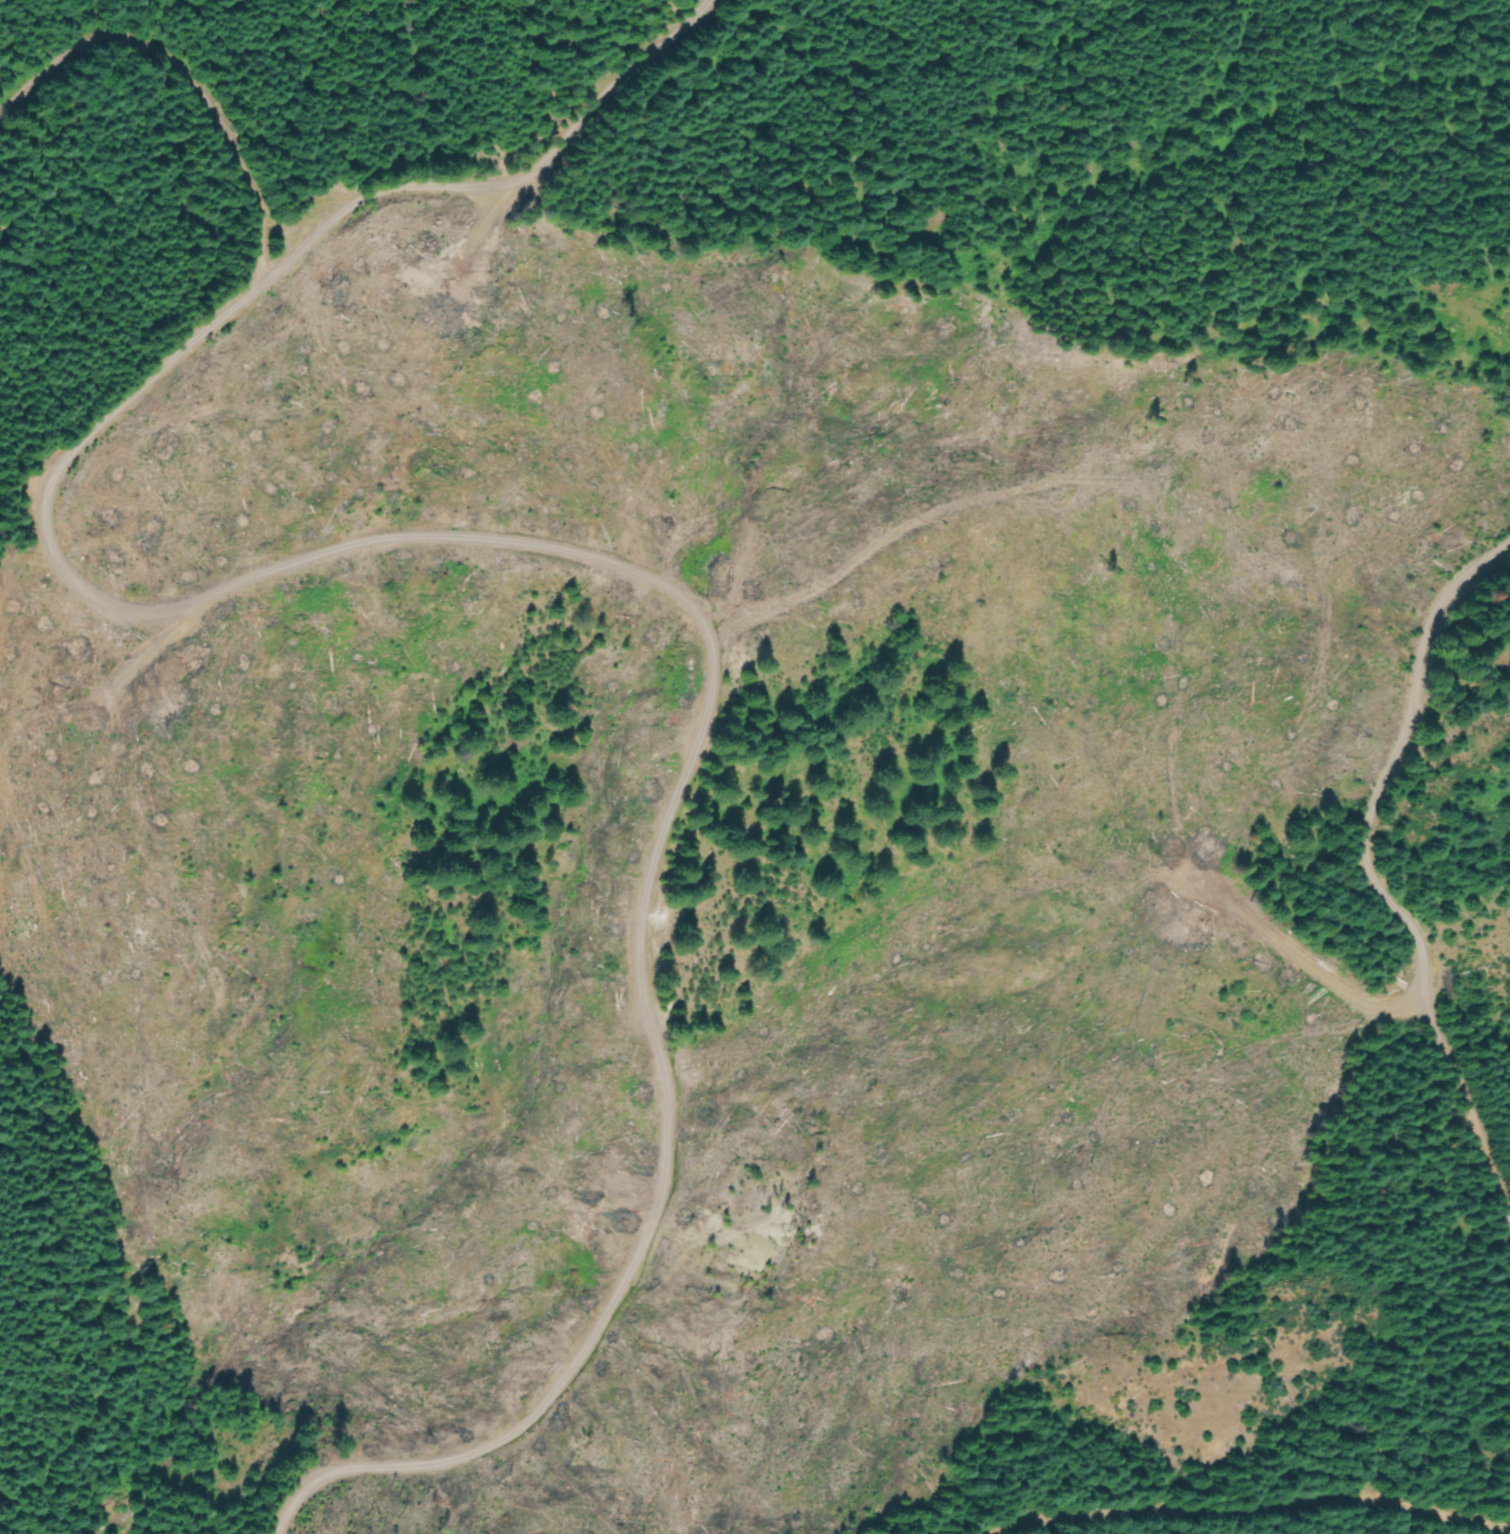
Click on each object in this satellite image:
road: (479, 185)
road: (530, 547)
road: (1371, 866)
road: (1260, 1516)

